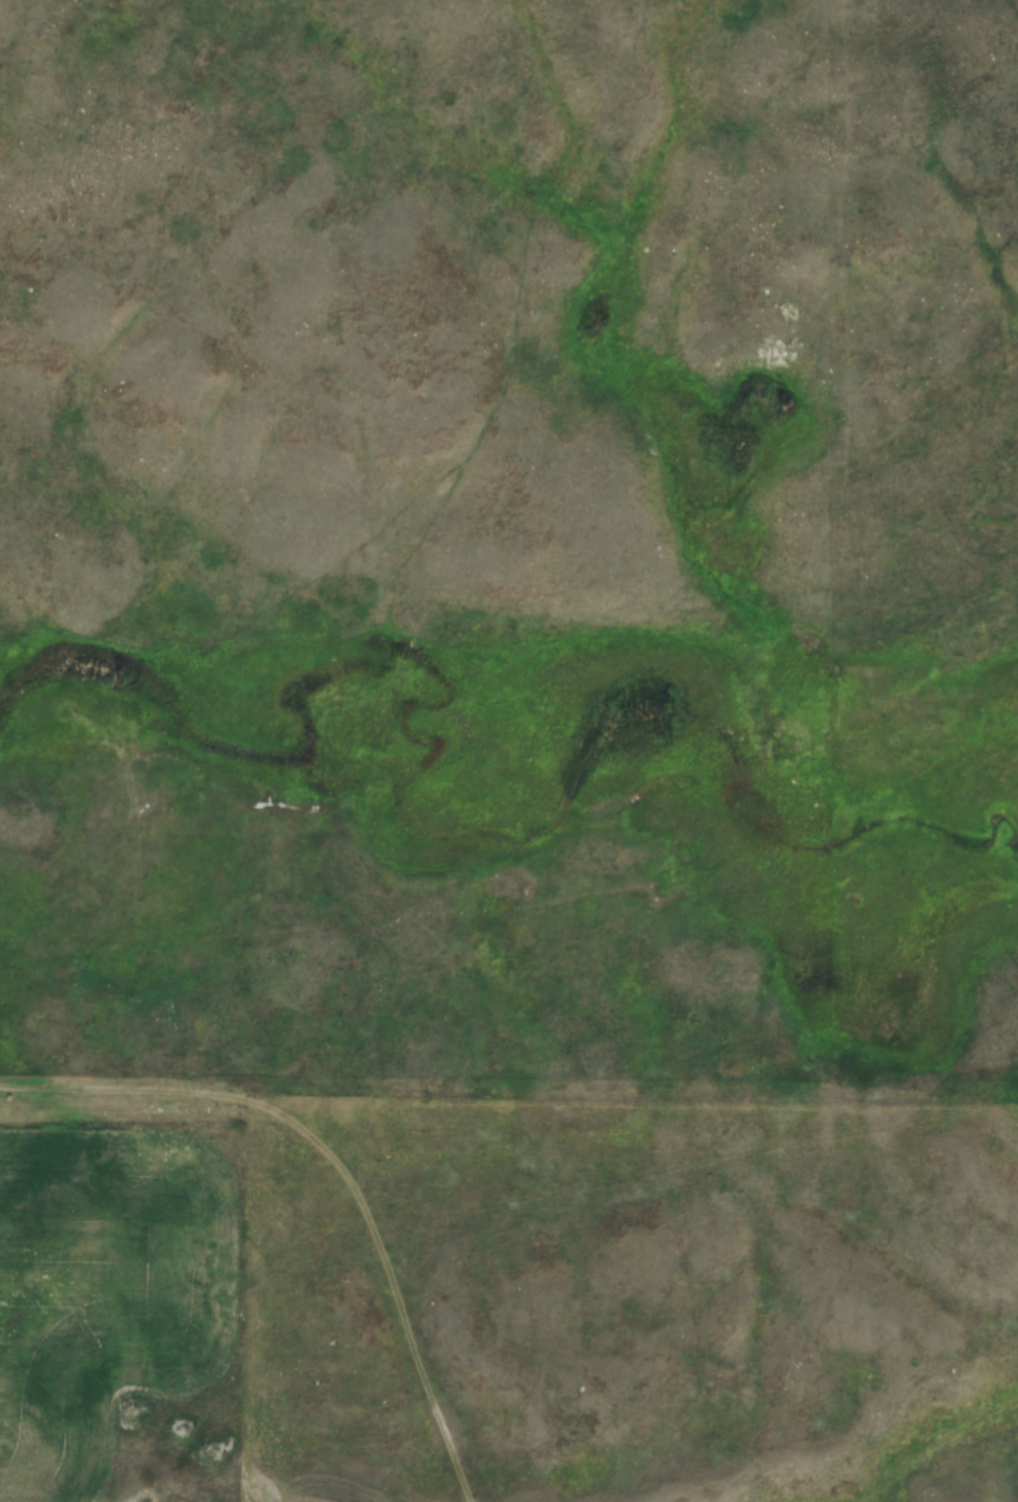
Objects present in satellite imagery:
road: (341, 1163)

